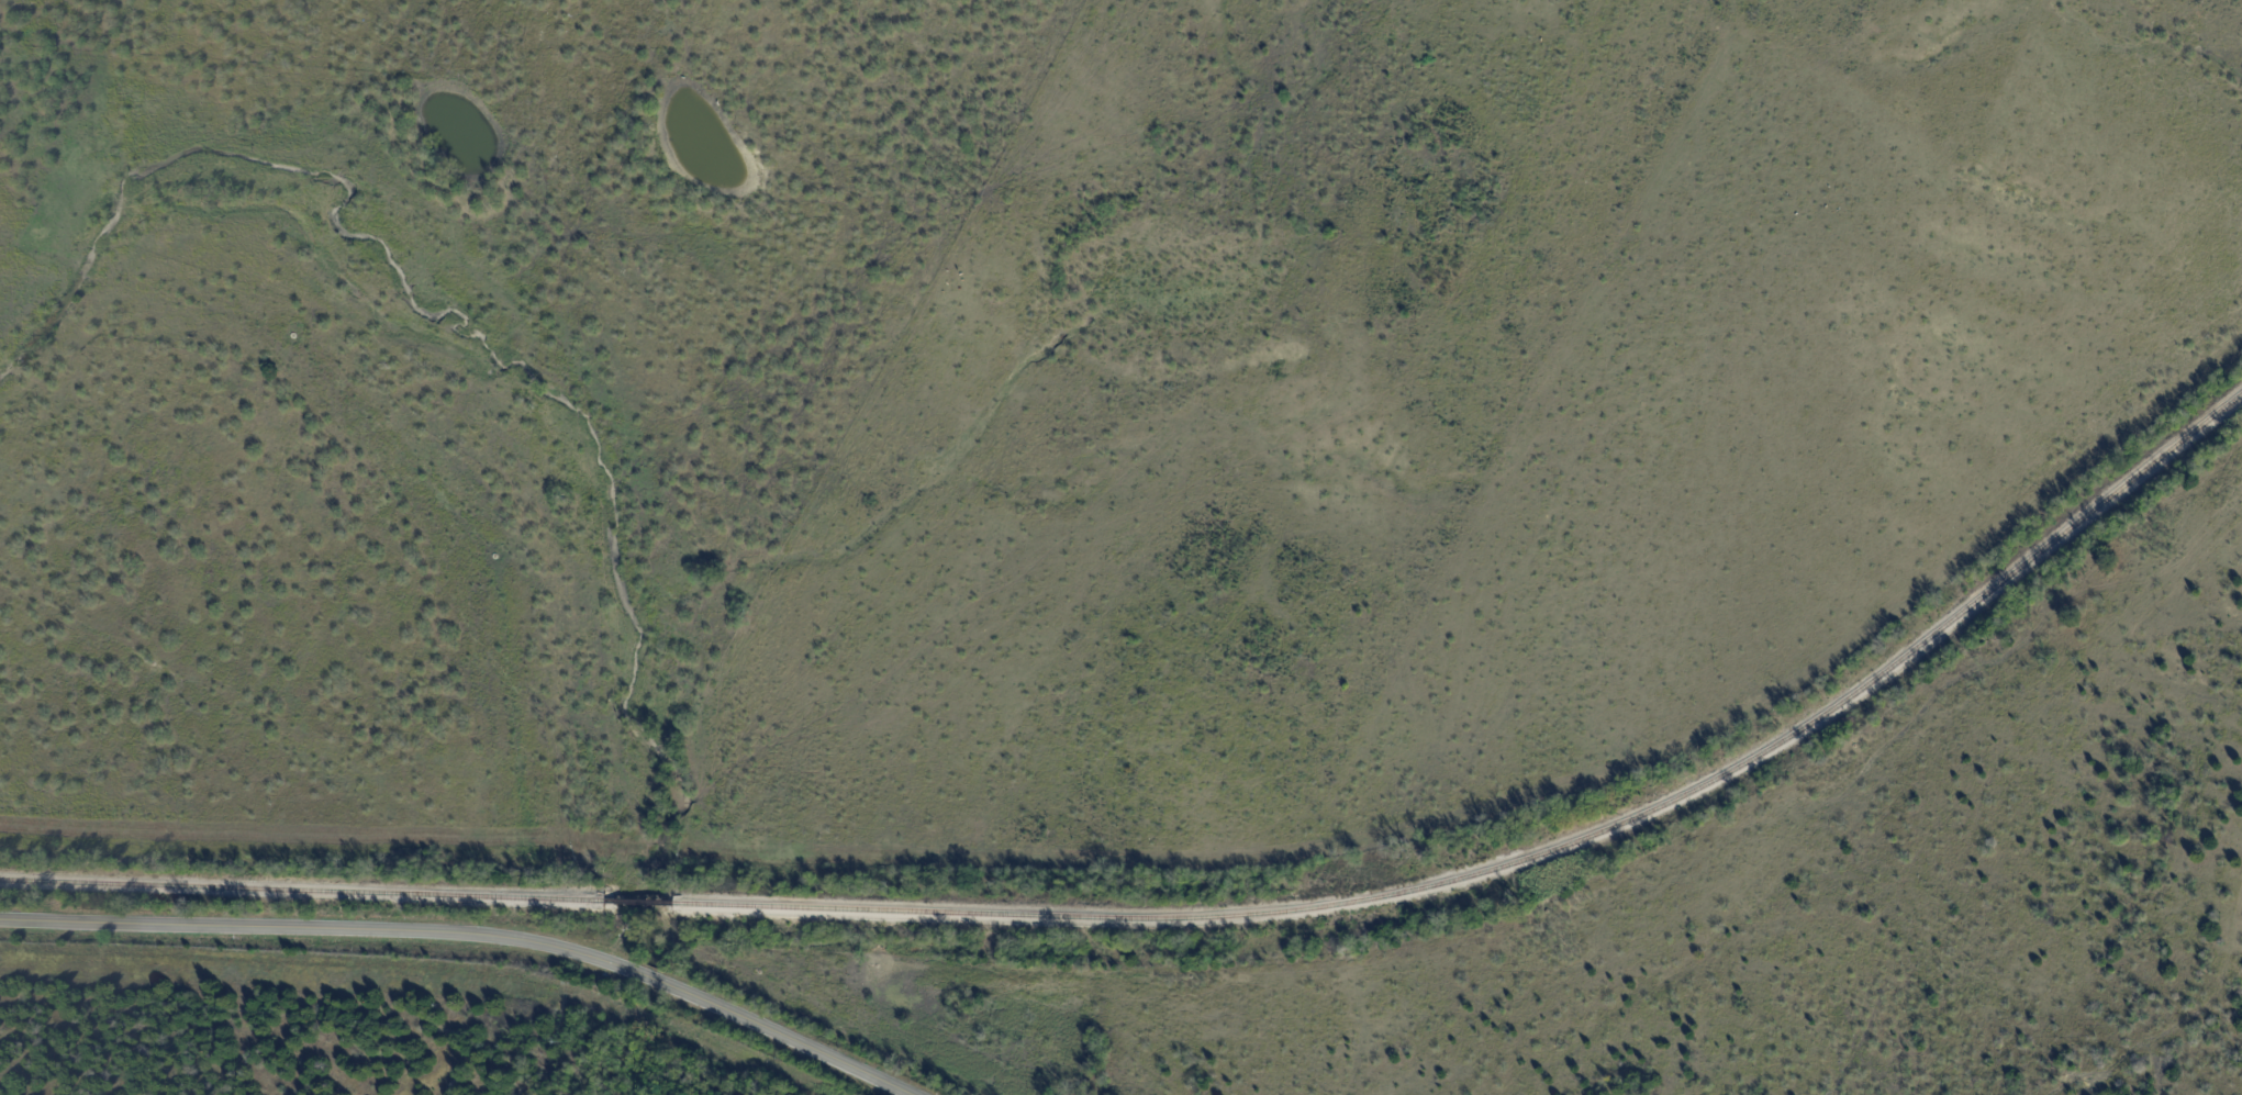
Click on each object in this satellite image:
railway: (1528, 861)
railway: (304, 890)
railway: (644, 901)
road: (288, 923)
road: (618, 963)
road: (781, 1037)

